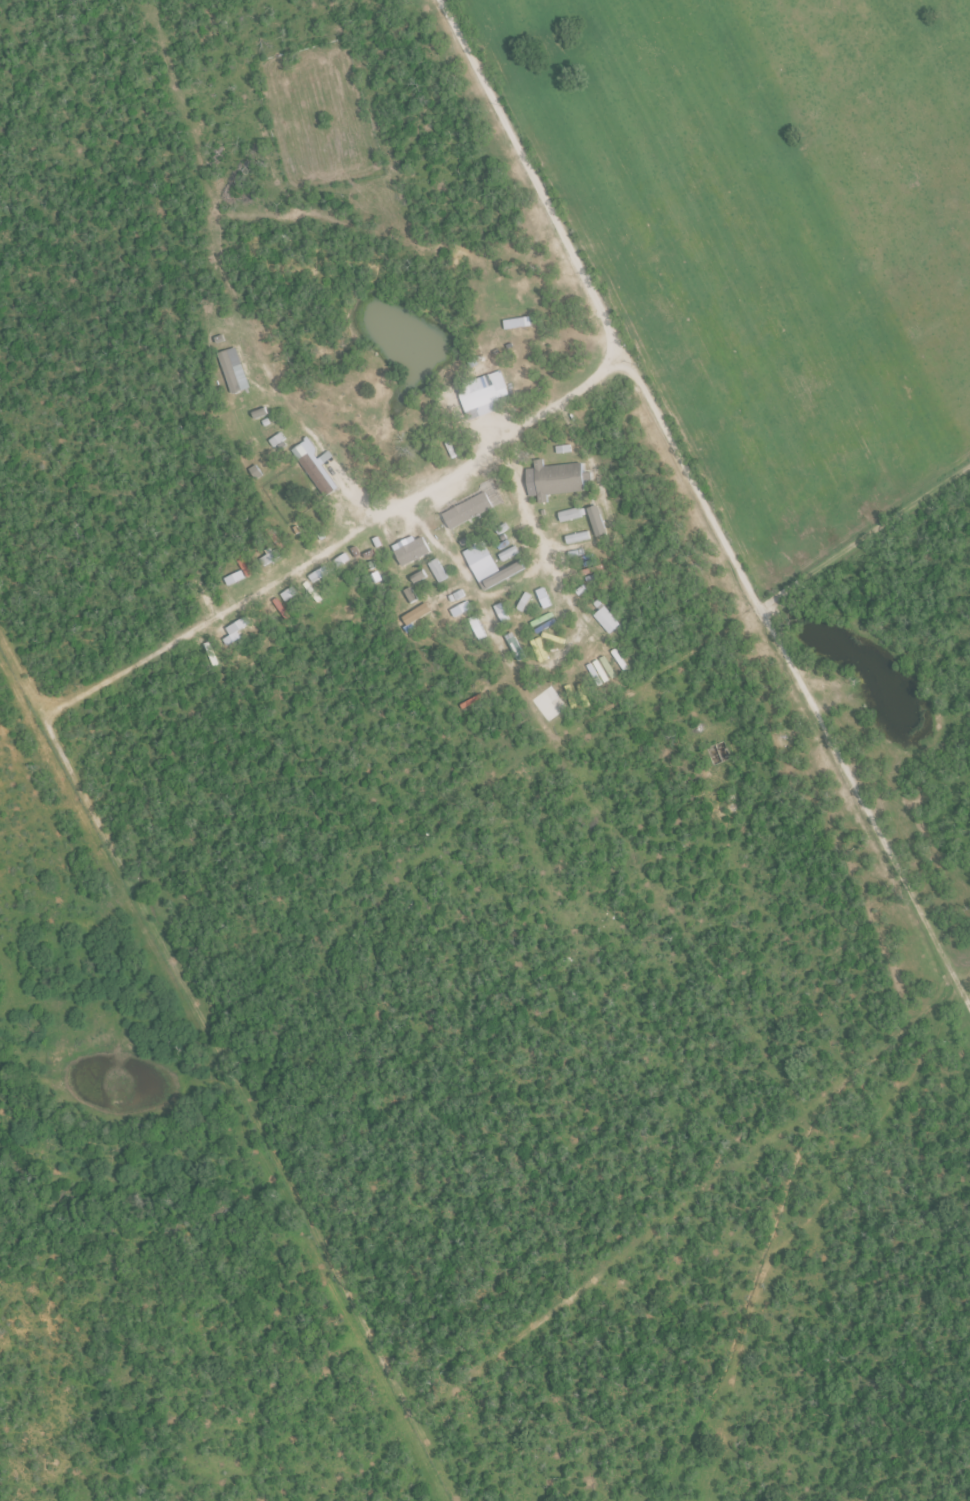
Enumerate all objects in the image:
road: (581, 275)
building: (479, 399)
building: (316, 477)
building: (554, 481)
road: (516, 482)
building: (467, 512)
building: (411, 553)
building: (437, 573)
road: (244, 602)

